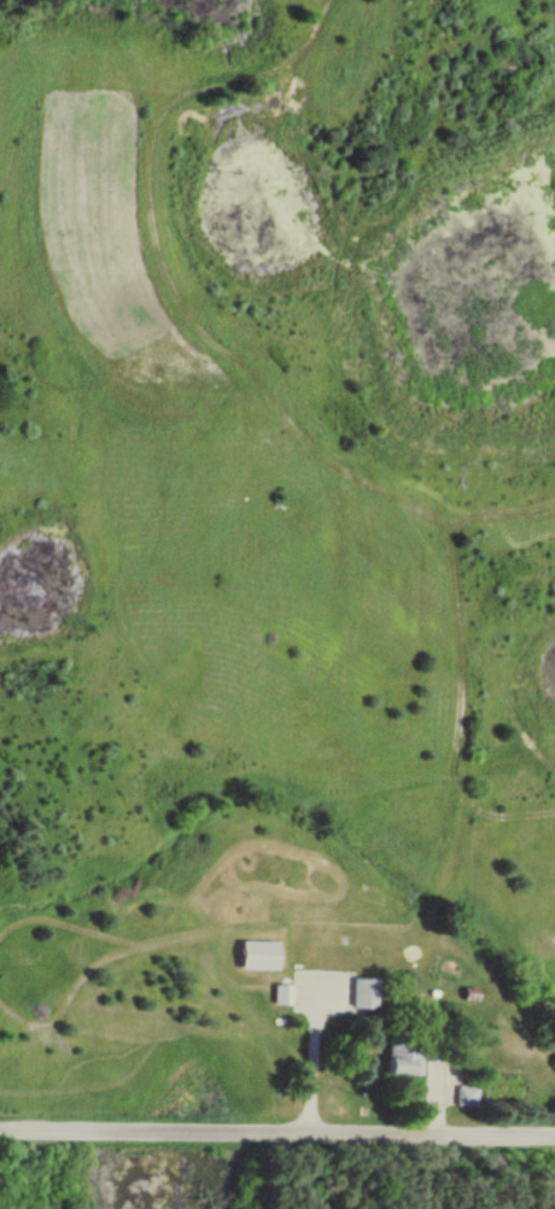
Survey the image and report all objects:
building: (358, 992)
building: (279, 993)
building: (398, 1055)
road: (276, 1131)

